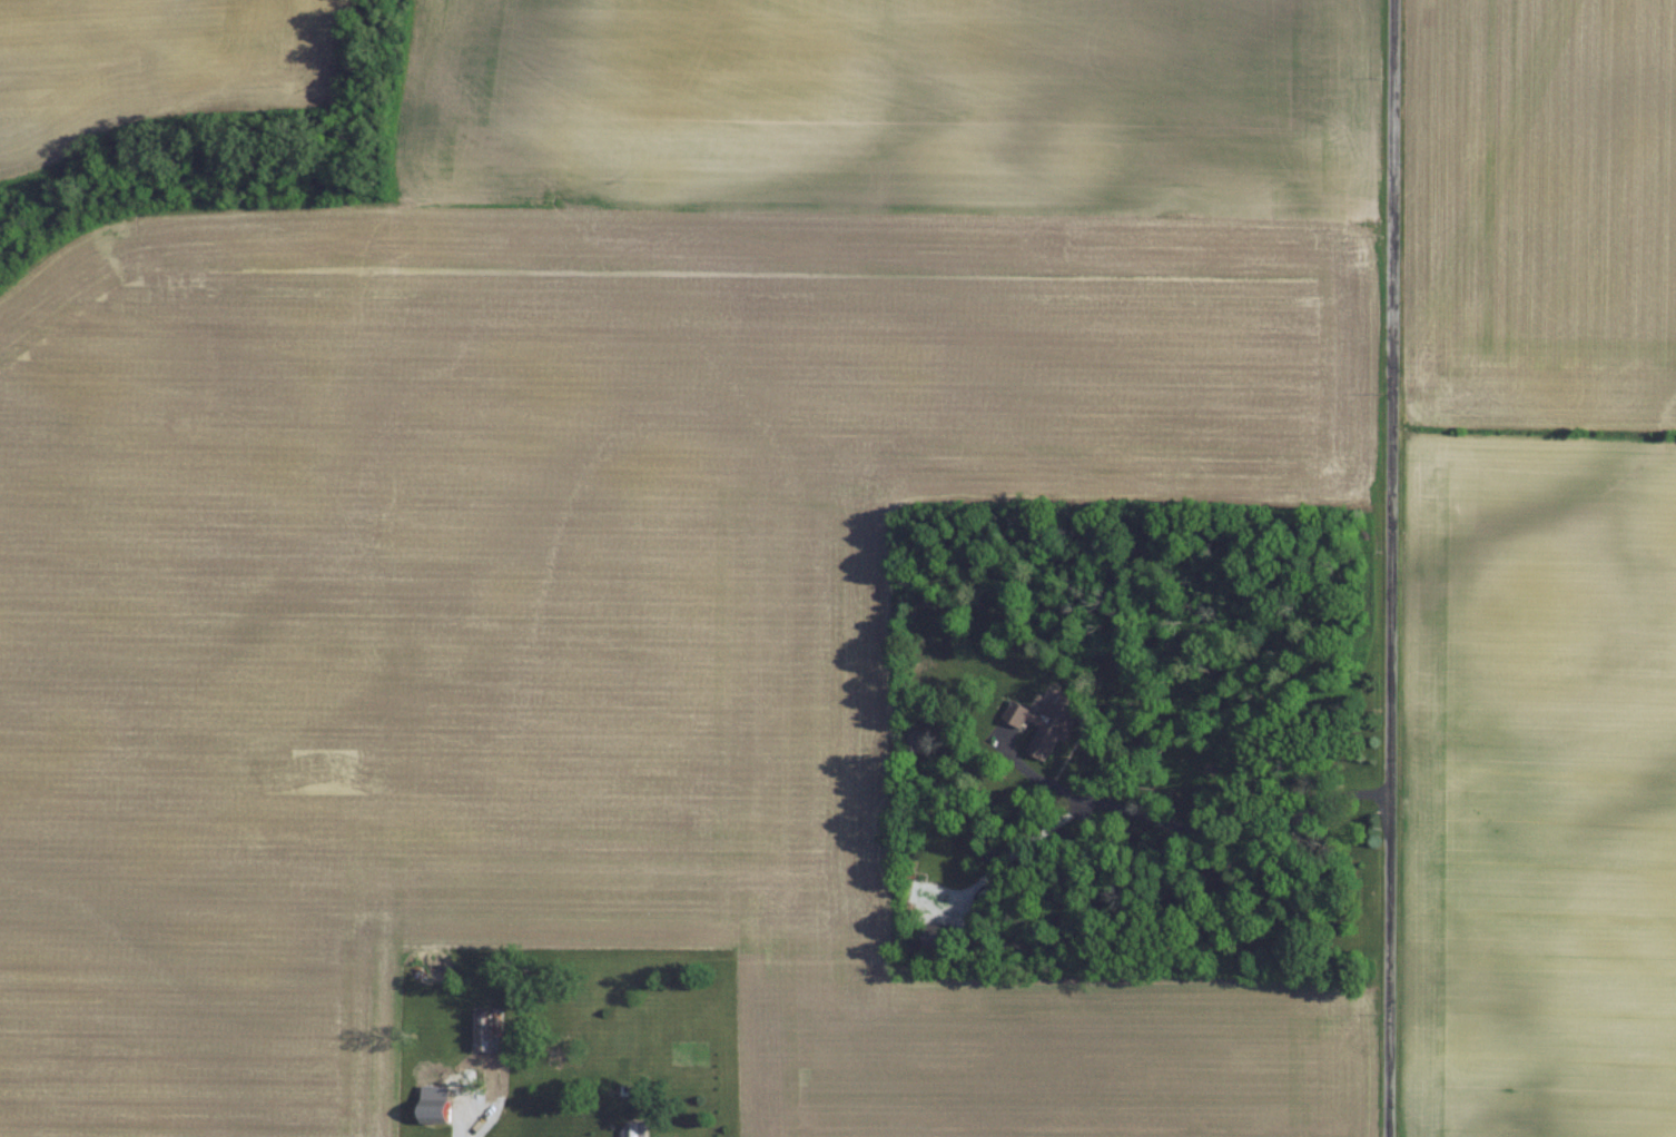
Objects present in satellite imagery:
road: (1391, 567)
road: (1220, 836)
building: (485, 1031)
building: (441, 1108)

